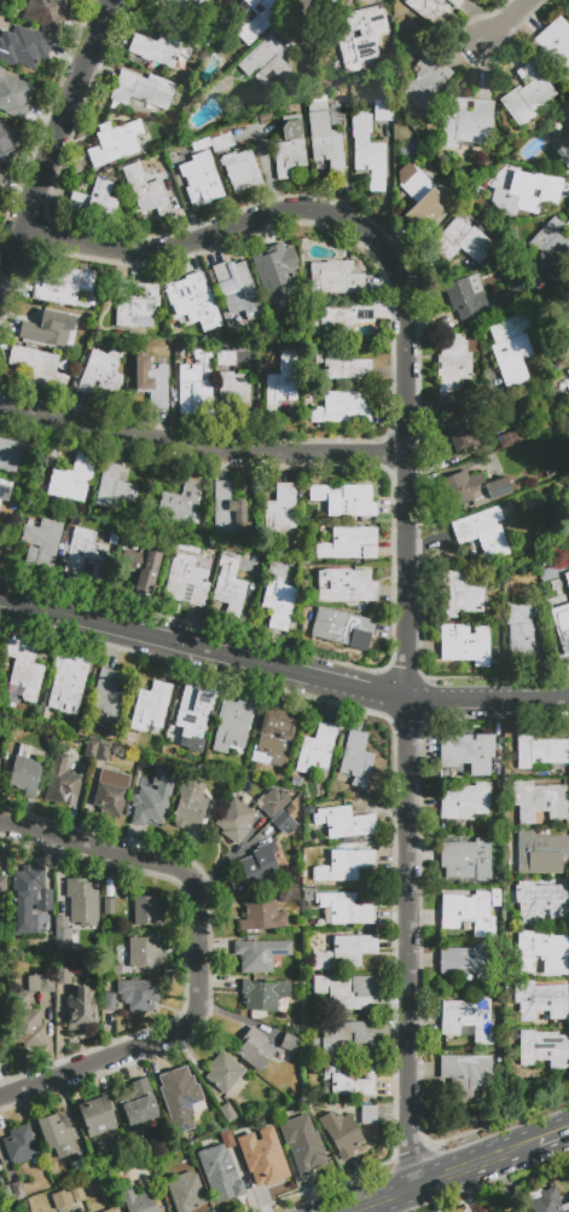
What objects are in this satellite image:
building: (366, 1)
building: (455, 2)
building: (179, 7)
building: (568, 10)
building: (430, 11)
building: (46, 12)
building: (250, 19)
road: (505, 19)
building: (361, 36)
building: (556, 41)
building: (27, 46)
building: (159, 50)
building: (272, 58)
building: (424, 80)
building: (143, 90)
building: (526, 93)
building: (13, 96)
building: (317, 103)
building: (382, 110)
building: (470, 122)
building: (292, 129)
building: (568, 135)
building: (222, 142)
building: (325, 142)
building: (6, 143)
building: (115, 143)
road: (58, 146)
building: (199, 150)
building: (366, 151)
building: (563, 154)
building: (289, 158)
building: (150, 167)
building: (240, 171)
building: (1, 174)
building: (202, 183)
building: (145, 189)
building: (529, 191)
building: (420, 197)
building: (95, 201)
building: (461, 241)
building: (551, 243)
building: (274, 272)
building: (336, 278)
building: (63, 287)
building: (236, 287)
building: (465, 298)
building: (192, 301)
building: (135, 304)
building: (341, 319)
building: (47, 328)
building: (510, 350)
building: (226, 359)
building: (454, 360)
building: (40, 365)
building: (342, 367)
building: (103, 371)
building: (568, 374)
building: (151, 382)
building: (194, 382)
building: (283, 383)
building: (568, 387)
building: (234, 391)
building: (342, 406)
building: (463, 437)
building: (510, 439)
road: (199, 448)
building: (11, 455)
building: (72, 479)
building: (114, 486)
building: (6, 490)
building: (470, 490)
building: (568, 492)
building: (186, 501)
building: (346, 501)
building: (227, 510)
building: (280, 510)
road: (405, 527)
building: (484, 532)
building: (112, 538)
building: (43, 542)
building: (349, 544)
building: (85, 556)
building: (143, 566)
building: (567, 579)
building: (186, 581)
building: (228, 585)
building: (346, 585)
building: (277, 589)
building: (464, 593)
building: (562, 627)
building: (342, 629)
building: (522, 630)
building: (465, 645)
road: (281, 668)
building: (24, 670)
building: (68, 683)
building: (106, 699)
building: (150, 706)
building: (191, 718)
building: (232, 723)
building: (274, 738)
building: (91, 749)
building: (315, 749)
building: (103, 752)
building: (468, 752)
building: (539, 752)
building: (356, 760)
building: (25, 773)
building: (62, 784)
building: (110, 792)
building: (539, 801)
building: (272, 802)
building: (464, 802)
building: (152, 804)
building: (188, 807)
building: (234, 821)
building: (284, 823)
building: (346, 824)
building: (540, 854)
building: (466, 859)
building: (343, 866)
building: (256, 871)
building: (2, 885)
building: (289, 891)
building: (495, 899)
building: (540, 901)
building: (82, 902)
building: (29, 904)
building: (109, 906)
building: (348, 910)
building: (146, 911)
building: (468, 913)
building: (262, 916)
building: (64, 937)
building: (349, 951)
building: (145, 952)
road: (198, 953)
building: (542, 953)
building: (261, 956)
building: (466, 962)
building: (63, 976)
building: (41, 982)
building: (348, 992)
building: (139, 994)
building: (262, 994)
building: (539, 1000)
building: (109, 1002)
building: (82, 1009)
building: (468, 1020)
building: (25, 1021)
building: (347, 1037)
building: (290, 1044)
building: (255, 1049)
building: (542, 1050)
building: (225, 1072)
building: (466, 1073)
building: (352, 1079)
building: (179, 1096)
building: (139, 1104)
building: (227, 1112)
building: (367, 1114)
building: (97, 1115)
building: (341, 1133)
building: (57, 1135)
building: (239, 1135)
road: (551, 1135)
building: (227, 1141)
building: (21, 1145)
building: (306, 1153)
building: (267, 1162)
road: (470, 1164)
building: (81, 1167)
building: (222, 1184)
building: (22, 1189)
building: (186, 1193)
building: (6, 1195)
building: (60, 1199)
road: (377, 1200)
road: (400, 1200)
building: (138, 1201)
building: (547, 1201)
building: (112, 1210)
building: (518, 1211)

